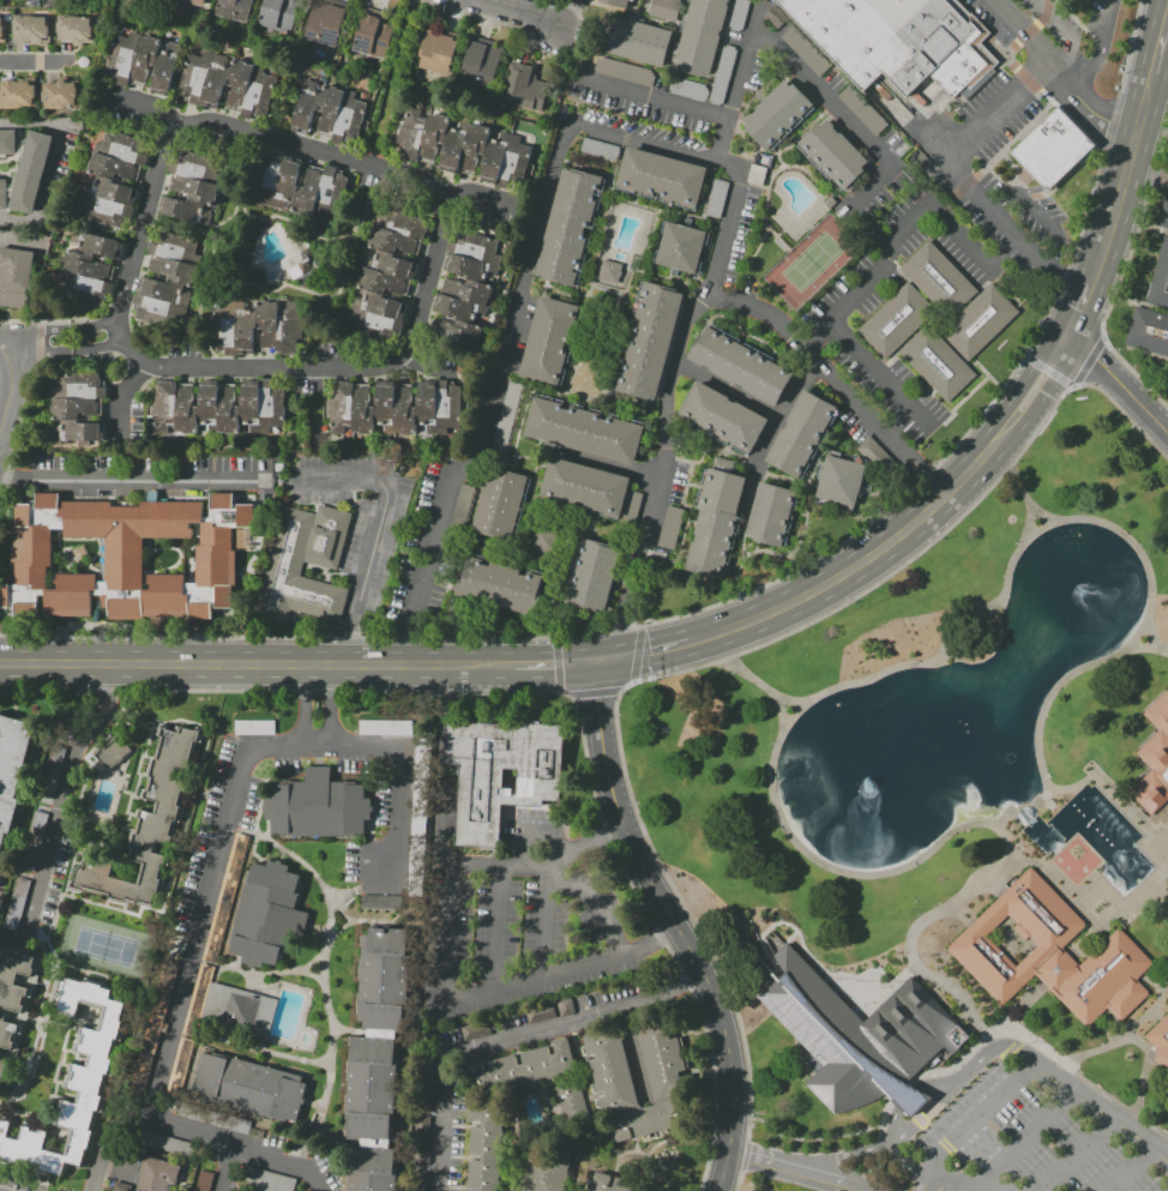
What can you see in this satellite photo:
building: (676, 0)
building: (195, 1)
building: (34, 2)
building: (49, 2)
building: (615, 4)
road: (1036, 8)
building: (235, 10)
road: (542, 10)
road: (564, 12)
road: (516, 13)
building: (278, 14)
building: (776, 16)
parking lot: (1021, 19)
road: (1167, 19)
building: (325, 23)
building: (76, 30)
building: (1, 31)
building: (30, 31)
road: (1018, 31)
building: (372, 36)
building: (700, 36)
building: (897, 41)
building: (638, 42)
road: (1160, 43)
building: (803, 50)
road: (1071, 52)
road: (1102, 52)
building: (437, 53)
road: (573, 53)
building: (480, 61)
building: (143, 62)
road: (38, 65)
building: (622, 71)
building: (228, 84)
building: (524, 88)
parking lot: (754, 91)
building: (16, 94)
building: (59, 94)
road: (662, 97)
parking lot: (827, 104)
road: (1050, 104)
building: (861, 109)
building: (329, 113)
building: (776, 114)
road: (1139, 119)
parking lot: (655, 124)
road: (281, 138)
road: (561, 138)
road: (967, 138)
building: (7, 143)
building: (463, 148)
building: (598, 149)
building: (1052, 151)
building: (833, 154)
parking lot: (891, 158)
road: (49, 162)
building: (31, 173)
road: (1148, 173)
building: (113, 178)
building: (661, 178)
building: (299, 182)
building: (193, 186)
building: (2, 194)
building: (717, 198)
parking lot: (875, 210)
road: (1112, 225)
building: (570, 227)
road: (20, 241)
building: (393, 241)
parking lot: (747, 245)
building: (476, 247)
building: (680, 247)
road: (973, 248)
park: (809, 260)
building: (386, 263)
building: (470, 267)
building: (88, 269)
building: (609, 271)
building: (14, 276)
building: (168, 278)
building: (938, 279)
building: (381, 282)
road: (869, 282)
building: (465, 289)
building: (1154, 302)
building: (465, 309)
road: (1083, 311)
building: (373, 313)
building: (893, 323)
building: (979, 323)
building: (257, 327)
road: (62, 329)
building: (454, 331)
building: (648, 341)
building: (549, 342)
road: (66, 348)
building: (937, 362)
building: (739, 366)
road: (260, 371)
road: (881, 375)
road: (827, 380)
road: (1120, 383)
road: (14, 390)
road: (724, 392)
parking lot: (844, 395)
building: (78, 405)
building: (218, 405)
building: (395, 407)
building: (505, 416)
road: (667, 417)
building: (722, 417)
road: (899, 422)
building: (583, 431)
road: (769, 433)
building: (800, 433)
road: (0, 435)
building: (871, 450)
road: (820, 463)
road: (610, 465)
road: (127, 480)
building: (839, 481)
parking lot: (684, 486)
road: (1022, 486)
building: (585, 487)
road: (685, 495)
building: (500, 504)
road: (805, 506)
building: (630, 507)
road: (1042, 512)
building: (770, 515)
building: (716, 524)
road: (909, 524)
building: (672, 528)
road: (374, 533)
building: (544, 540)
road: (741, 542)
building: (124, 558)
building: (284, 565)
building: (592, 576)
road: (734, 576)
building: (499, 585)
parking lot: (639, 590)
fountain: (1082, 594)
parking lot: (409, 609)
road: (1155, 638)
road: (944, 639)
road: (1144, 648)
traffic signals: (650, 652)
road: (642, 654)
road: (553, 663)
traffic signals: (554, 663)
road: (255, 668)
road: (649, 678)
road: (777, 696)
traffic signals: (596, 698)
road: (301, 706)
road: (331, 706)
park: (921, 711)
building: (255, 727)
building: (386, 727)
building: (1156, 739)
road: (317, 747)
building: (113, 753)
building: (13, 769)
building: (499, 774)
road: (1107, 780)
fountain: (865, 781)
road: (396, 789)
road: (61, 792)
building: (324, 805)
building: (416, 816)
building: (149, 829)
fountain: (1121, 855)
building: (1167, 870)
building: (1166, 874)
building: (1167, 879)
road: (354, 888)
road: (452, 890)
building: (225, 898)
road: (1160, 900)
building: (380, 902)
building: (17, 904)
road: (343, 913)
road: (1102, 915)
building: (266, 916)
road: (361, 921)
parking lot: (522, 922)
road: (923, 922)
road: (546, 925)
road: (675, 926)
road: (498, 930)
road: (652, 945)
park: (103, 946)
building: (1047, 954)
road: (319, 973)
road: (260, 976)
road: (313, 976)
building: (12, 991)
building: (198, 999)
road: (180, 1000)
building: (236, 1009)
building: (153, 1027)
building: (474, 1030)
building: (854, 1030)
road: (1004, 1031)
road: (1124, 1035)
road: (516, 1041)
building: (1158, 1041)
road: (251, 1046)
road: (636, 1057)
building: (377, 1059)
building: (181, 1064)
building: (2, 1069)
building: (668, 1070)
road: (1148, 1075)
building: (73, 1084)
building: (251, 1085)
building: (901, 1099)
building: (571, 1105)
road: (985, 1108)
road: (1102, 1109)
building: (215, 1118)
road: (916, 1118)
road: (892, 1120)
road: (875, 1125)
parking lot: (1041, 1133)
road: (1025, 1136)
road: (104, 1139)
building: (169, 1144)
building: (483, 1144)
road: (1074, 1154)
fountain: (672, 1159)
road: (224, 1167)
road: (1131, 1168)
building: (546, 1172)
road: (790, 1173)
road: (927, 1173)
building: (156, 1175)
building: (265, 1180)
building: (204, 1181)
road: (961, 1181)
building: (612, 1184)
building: (120, 1186)

